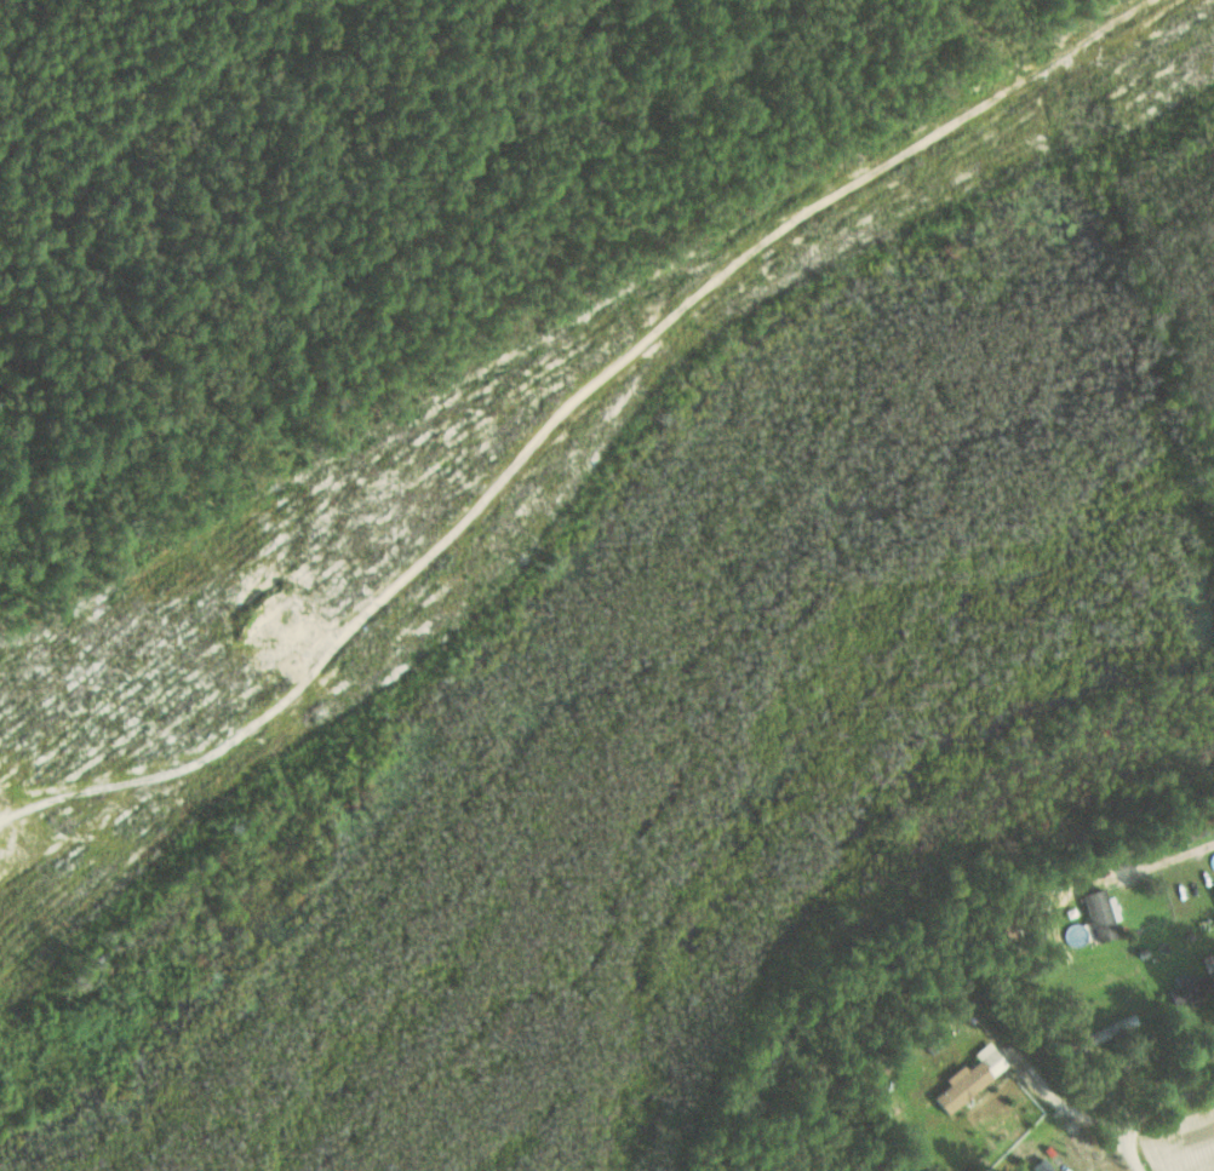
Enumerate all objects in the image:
road: (937, 130)
building: (1099, 915)
building: (1184, 991)
building: (1111, 1029)
building: (967, 1080)
road: (1149, 1114)
building: (1042, 1166)

